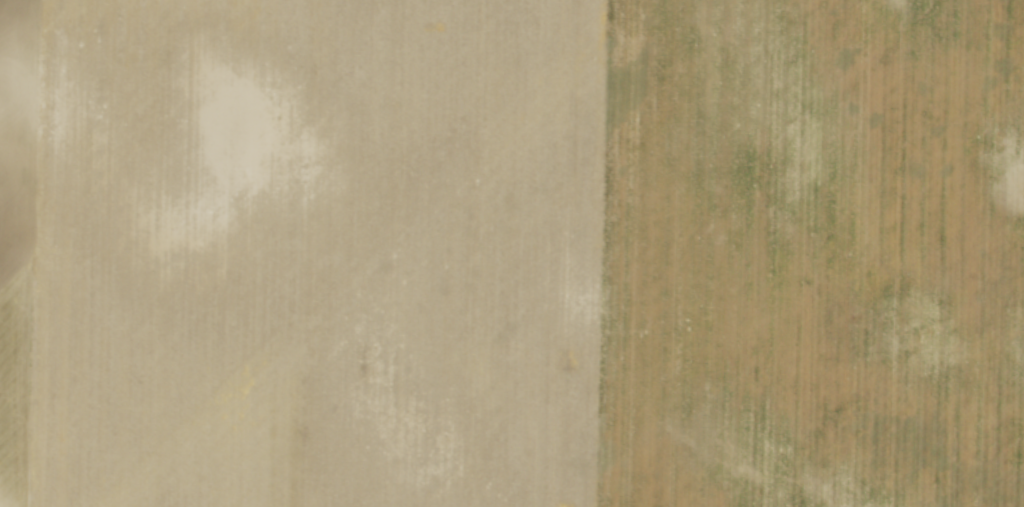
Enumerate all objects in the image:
crop: (512, 253)

